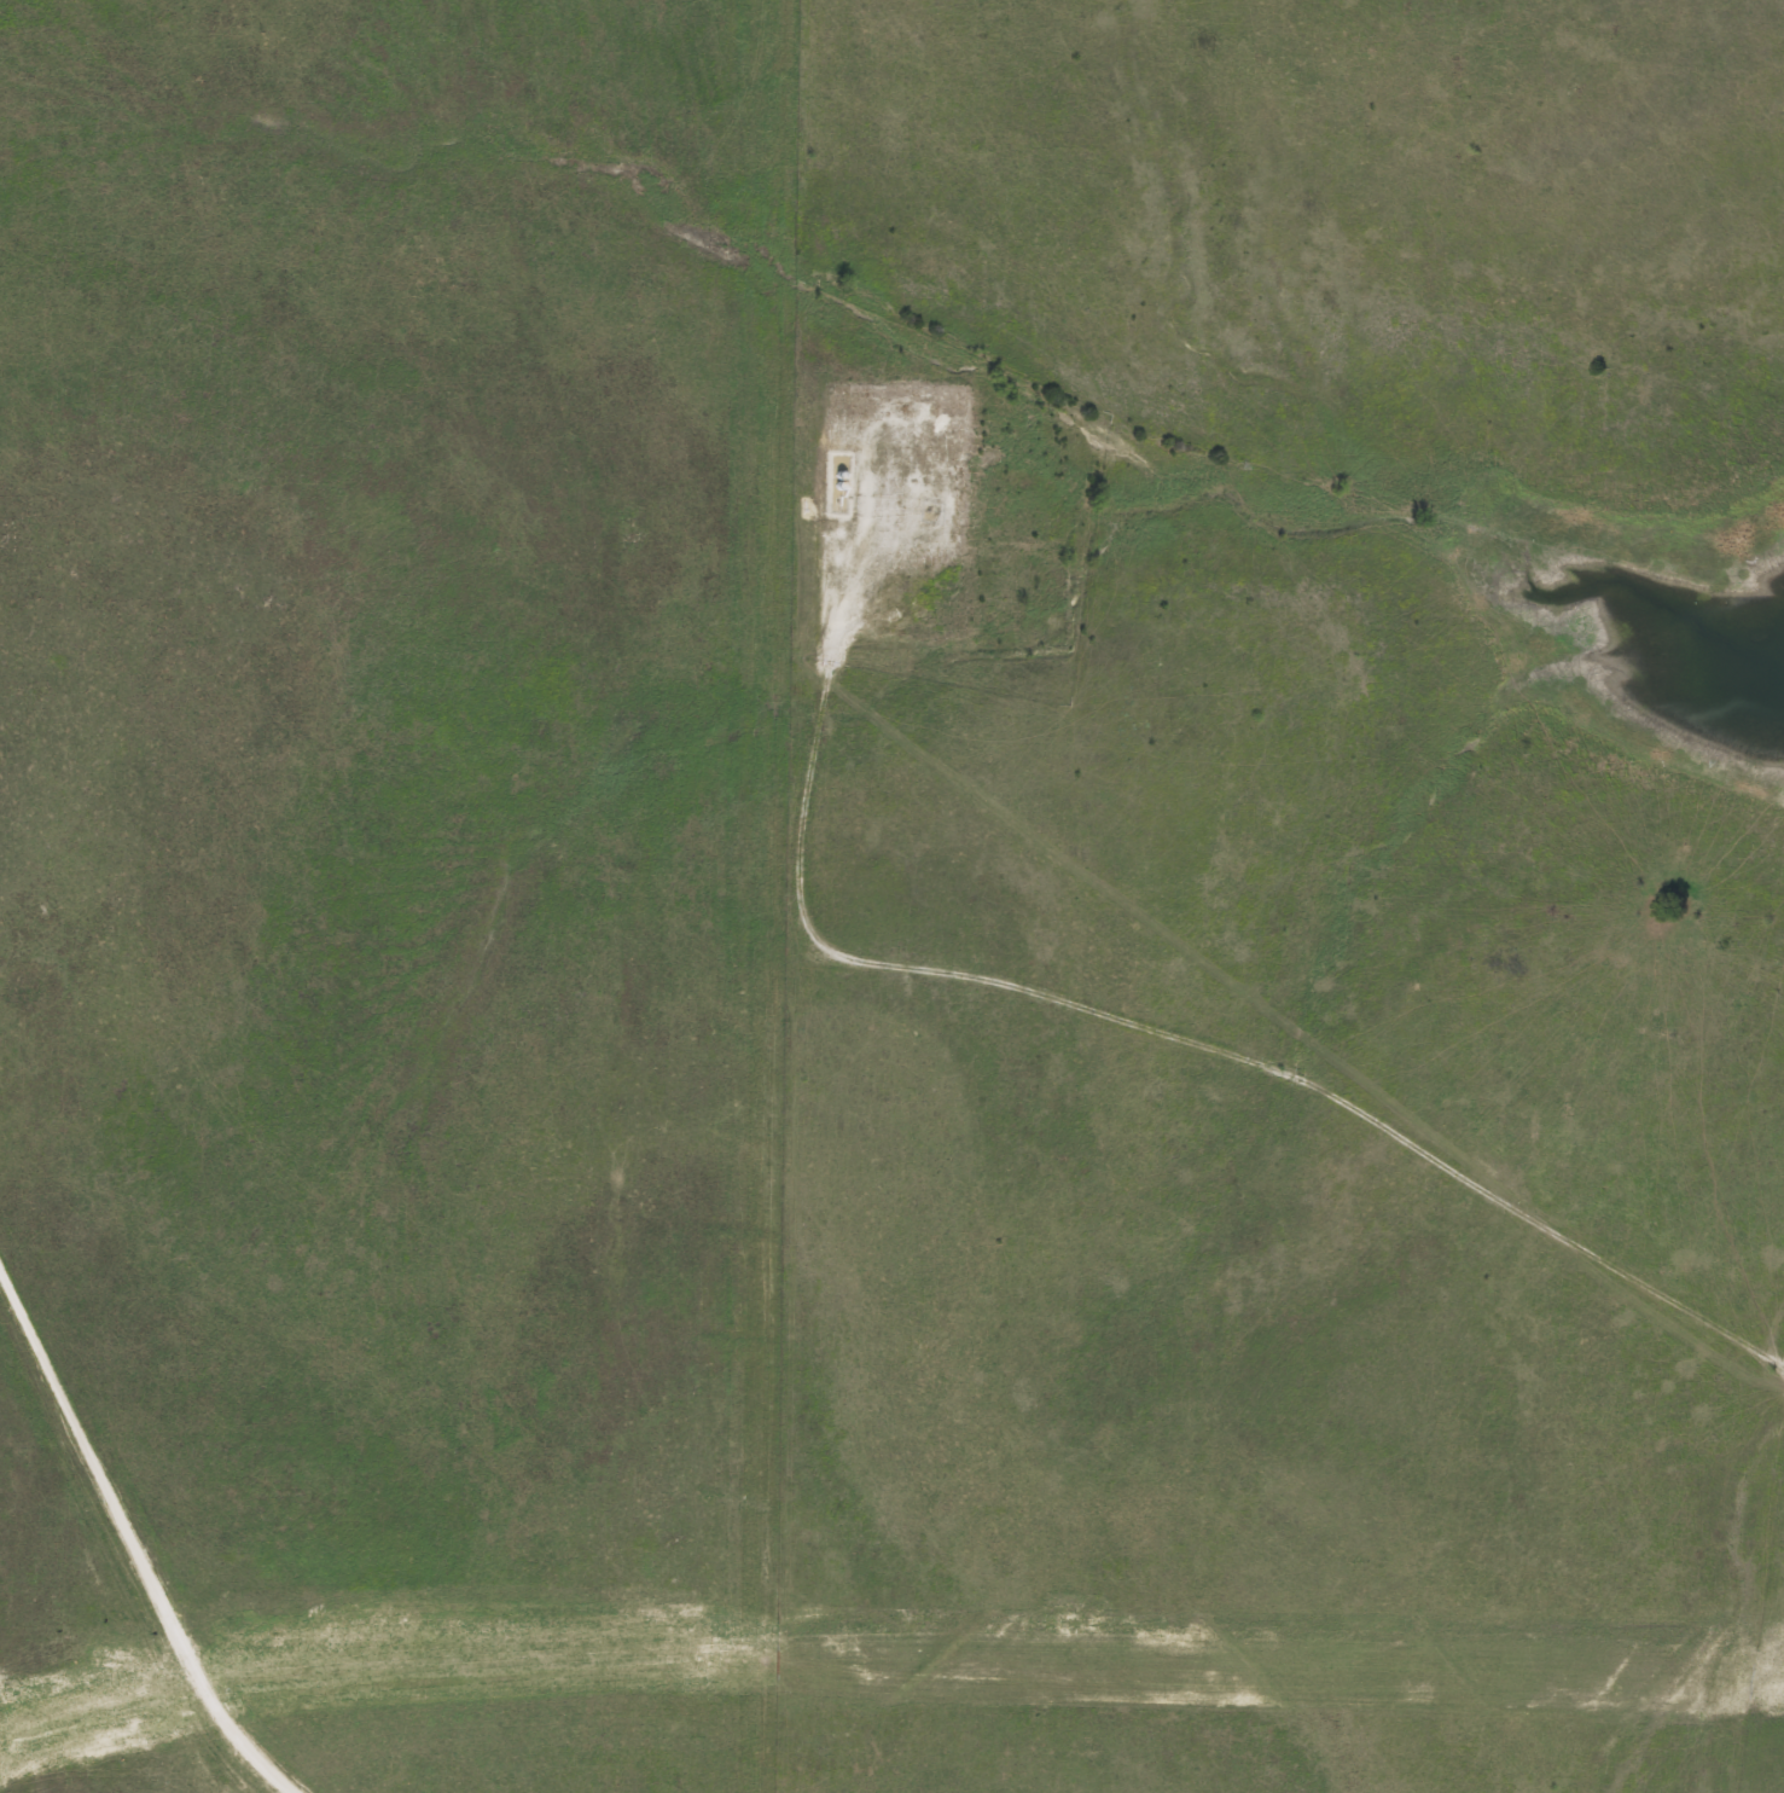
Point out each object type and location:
road: (134, 1544)

